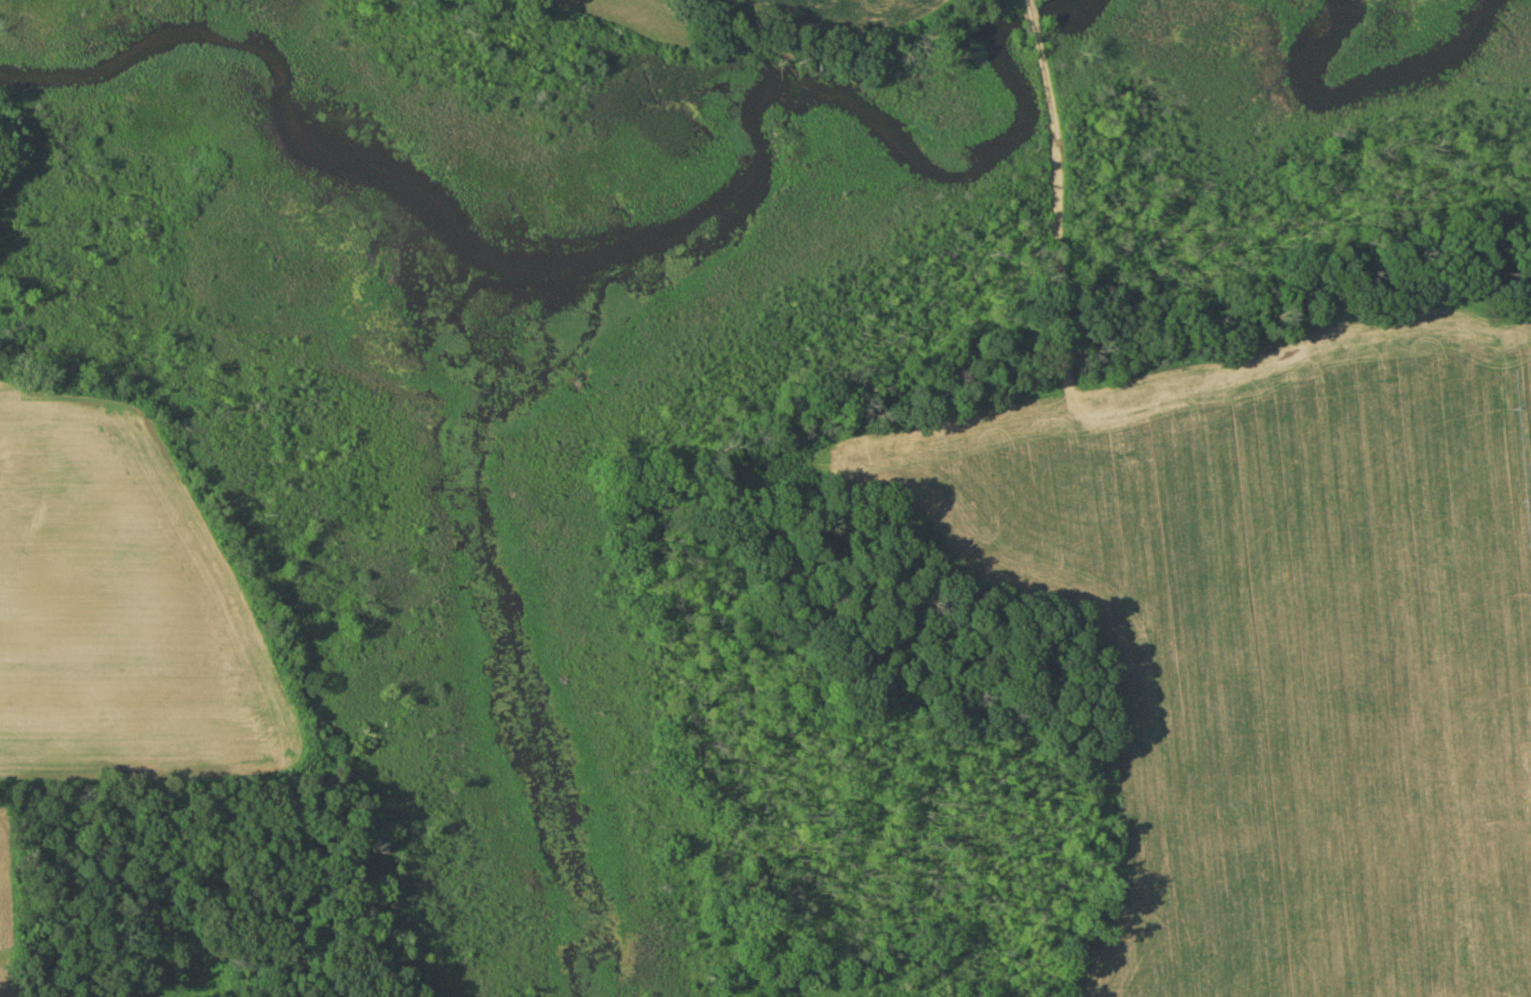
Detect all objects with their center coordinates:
river: (1346, 85)
river: (321, 146)
river: (594, 310)
river: (441, 325)

